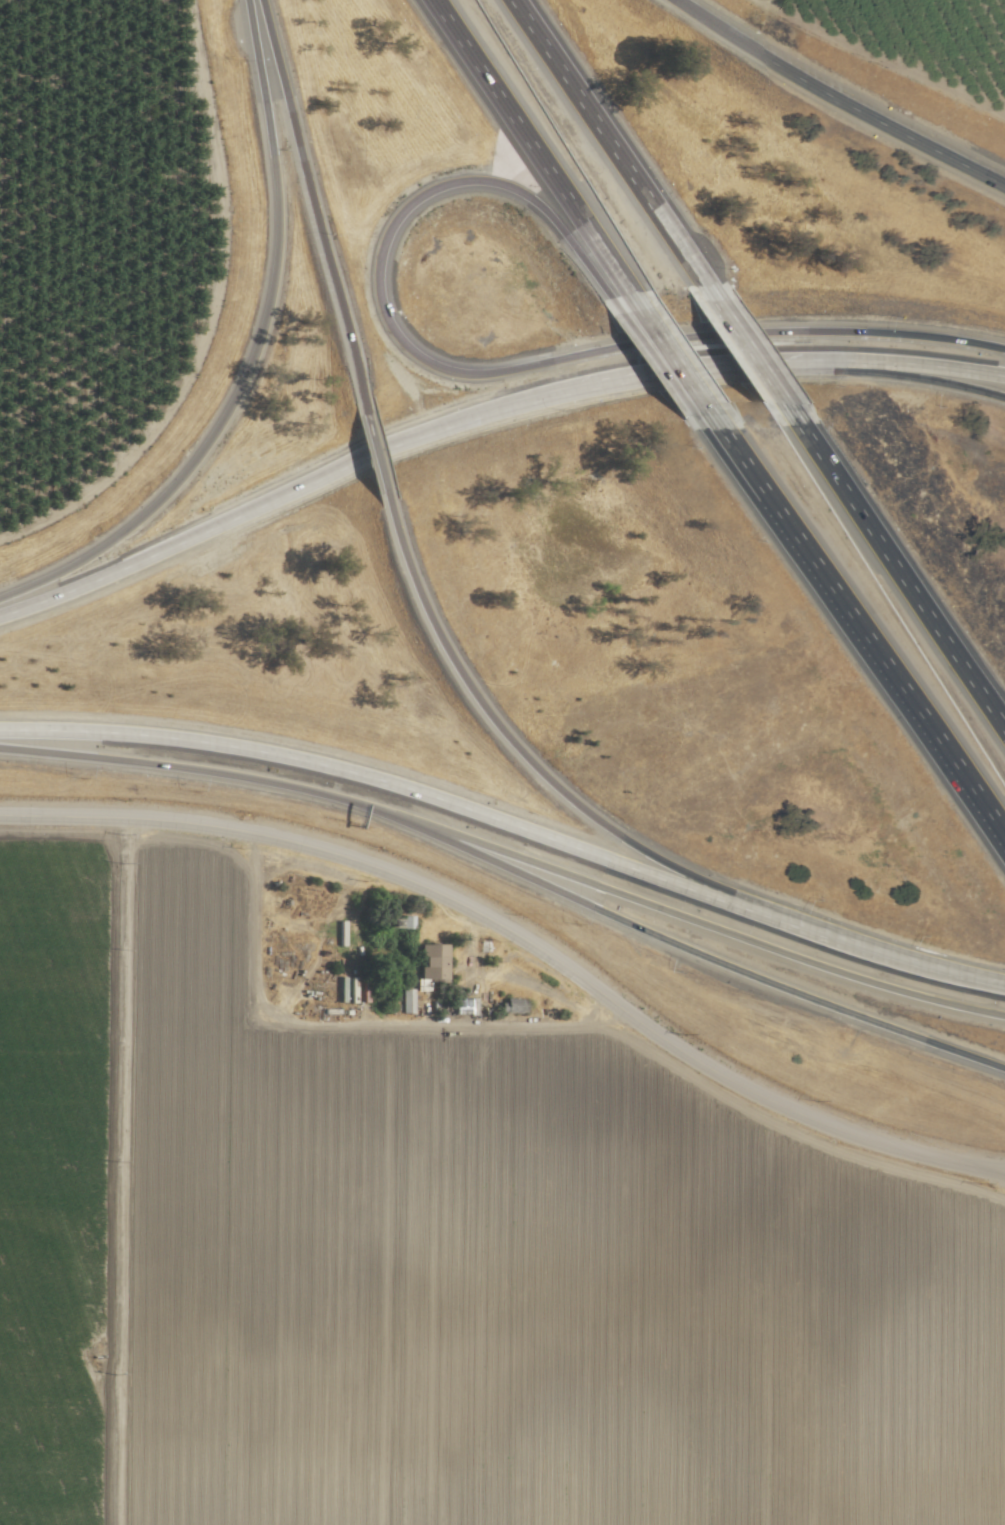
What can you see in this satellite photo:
road: (726, 33)
road: (890, 129)
road: (609, 140)
road: (530, 155)
road: (310, 199)
road: (752, 346)
road: (249, 353)
road: (672, 362)
road: (895, 362)
road: (658, 364)
road: (483, 373)
road: (896, 376)
road: (718, 434)
road: (711, 435)
road: (380, 446)
road: (377, 453)
road: (902, 563)
road: (867, 654)
road: (206, 771)
road: (545, 777)
road: (416, 791)
road: (705, 924)
road: (522, 941)
road: (702, 957)
road: (909, 960)
building: (429, 963)
building: (406, 1000)
building: (511, 1004)
road: (323, 1025)

